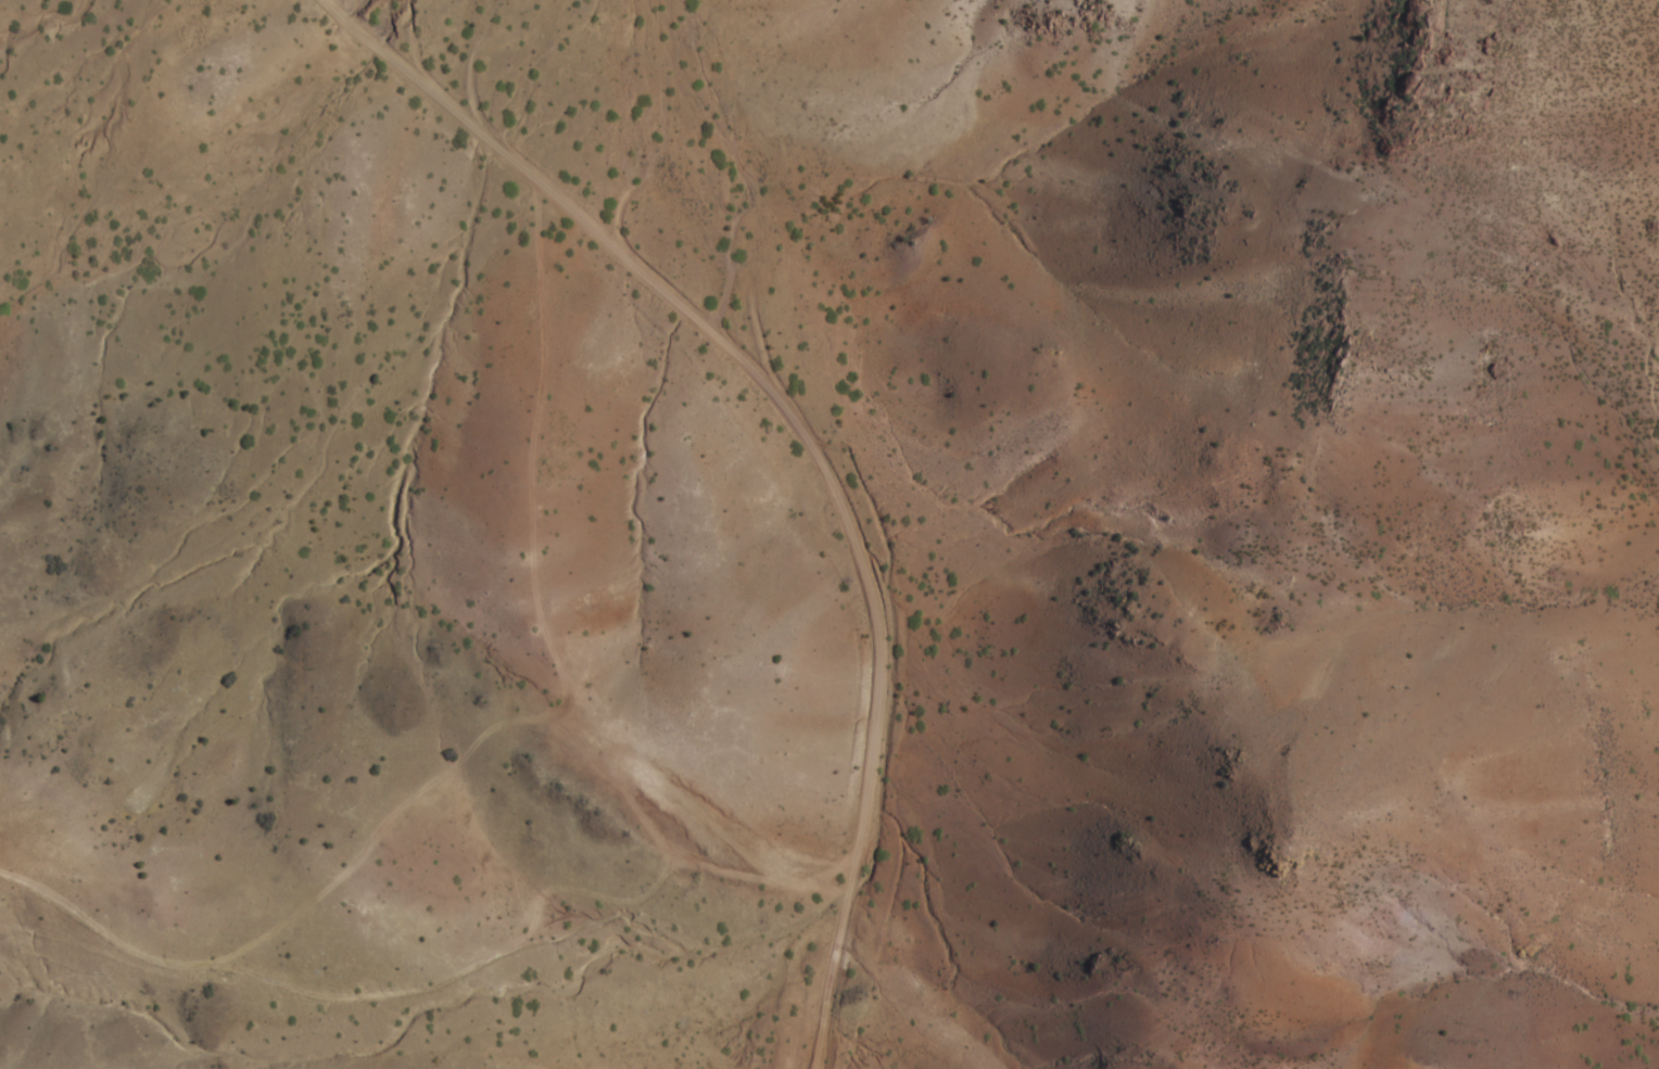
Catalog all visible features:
road: (803, 440)

